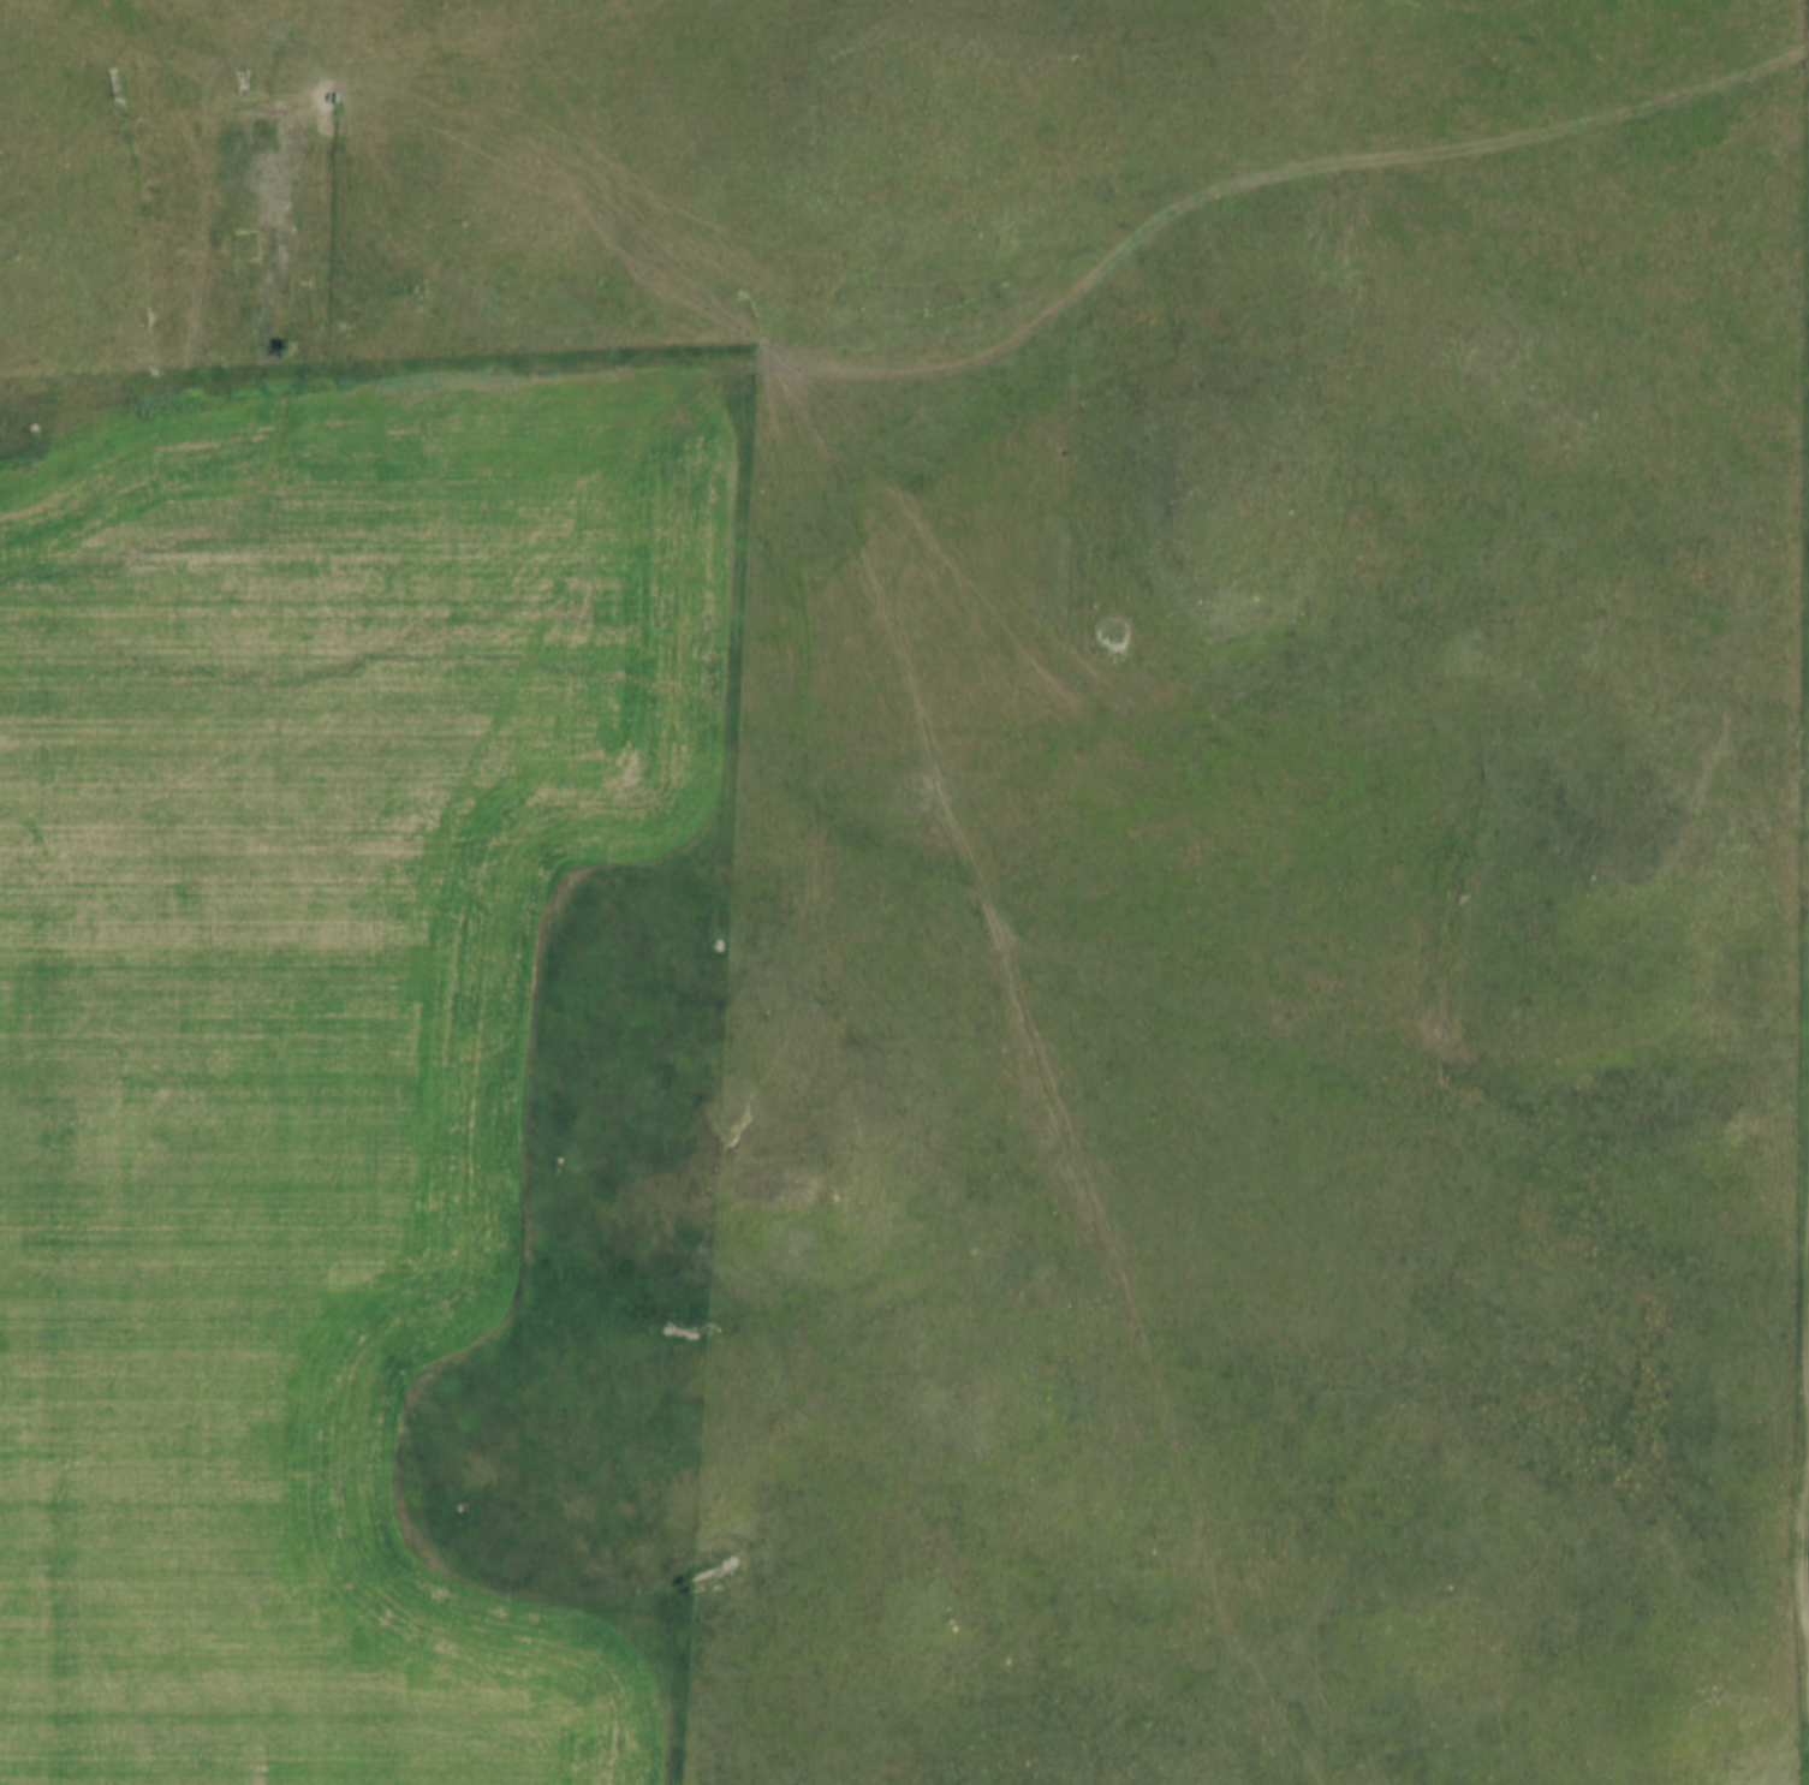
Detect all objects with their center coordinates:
road: (928, 368)

